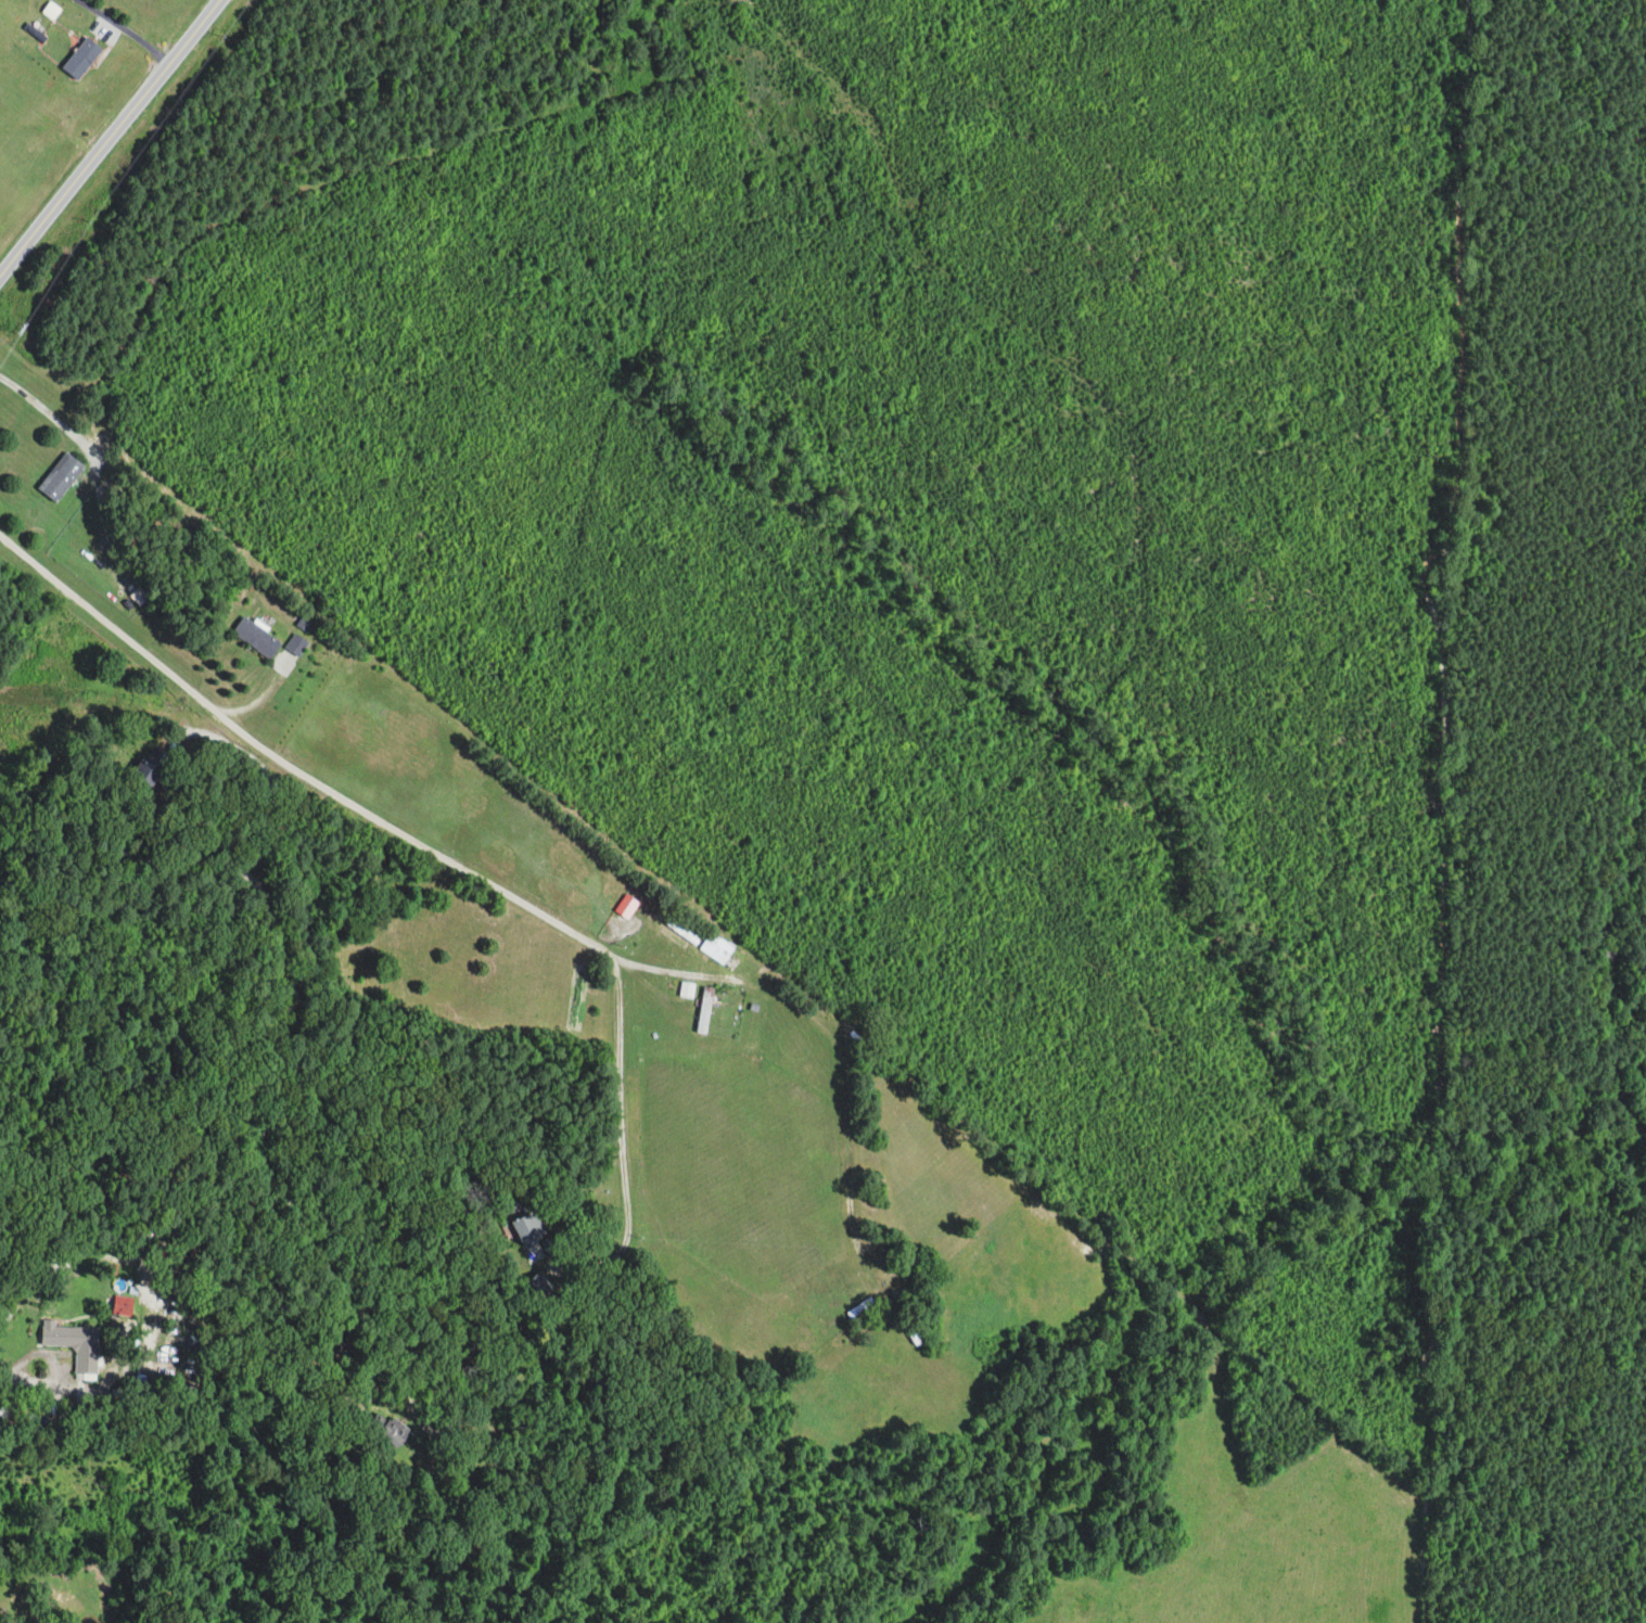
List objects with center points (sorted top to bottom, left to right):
road: (123, 30)
building: (82, 59)
road: (107, 139)
road: (95, 451)
building: (61, 476)
building: (82, 490)
building: (139, 596)
building: (257, 636)
building: (296, 643)
building: (148, 770)
road: (439, 846)
building: (627, 905)
building: (715, 948)
building: (688, 988)
road: (828, 1033)
road: (279, 1037)
building: (527, 1227)
building: (124, 1305)
building: (75, 1344)
building: (395, 1430)

